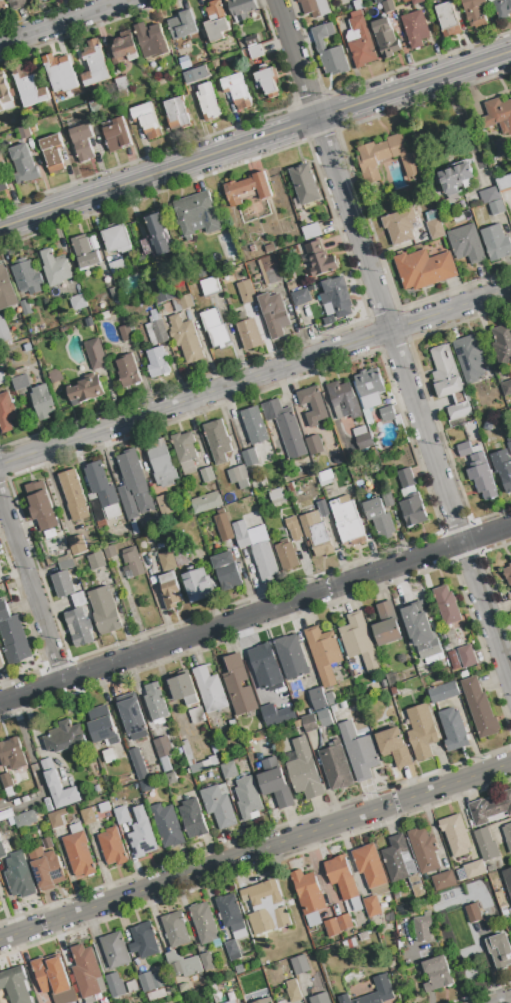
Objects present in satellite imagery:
building: (24, 0)
building: (40, 0)
building: (12, 1)
building: (379, 1)
building: (417, 2)
building: (358, 5)
building: (2, 6)
building: (387, 6)
building: (314, 7)
building: (503, 8)
building: (242, 9)
building: (476, 11)
building: (448, 20)
road: (63, 21)
building: (217, 21)
building: (182, 25)
building: (341, 26)
building: (415, 28)
building: (203, 34)
building: (386, 38)
building: (151, 40)
building: (251, 40)
building: (361, 41)
building: (123, 50)
building: (329, 50)
building: (256, 52)
building: (224, 62)
building: (95, 64)
building: (217, 64)
building: (60, 73)
building: (160, 82)
building: (268, 82)
building: (122, 84)
building: (29, 86)
building: (234, 93)
building: (5, 95)
building: (125, 95)
building: (208, 102)
building: (177, 113)
building: (497, 115)
building: (145, 120)
building: (32, 126)
building: (24, 132)
building: (116, 134)
road: (255, 138)
building: (83, 142)
building: (1, 146)
building: (501, 149)
building: (52, 152)
building: (386, 159)
building: (24, 164)
building: (454, 178)
building: (3, 183)
building: (504, 183)
building: (305, 185)
building: (248, 189)
building: (490, 195)
building: (420, 197)
building: (474, 197)
building: (497, 207)
building: (196, 214)
building: (432, 215)
building: (400, 225)
building: (327, 226)
building: (436, 229)
building: (311, 231)
building: (159, 233)
building: (118, 239)
building: (496, 242)
building: (466, 244)
building: (270, 247)
building: (251, 248)
building: (85, 252)
building: (320, 259)
building: (269, 263)
building: (55, 268)
building: (118, 269)
building: (424, 269)
building: (27, 278)
building: (291, 284)
building: (209, 286)
building: (161, 289)
building: (6, 290)
building: (245, 292)
building: (337, 296)
building: (300, 297)
building: (184, 301)
building: (78, 302)
building: (25, 307)
building: (92, 307)
building: (274, 314)
building: (104, 316)
building: (329, 320)
building: (89, 322)
building: (215, 328)
building: (156, 329)
building: (4, 331)
building: (35, 331)
building: (248, 332)
building: (125, 333)
building: (186, 339)
road: (393, 342)
building: (502, 343)
building: (27, 347)
building: (95, 354)
building: (472, 357)
building: (158, 362)
building: (1, 368)
building: (128, 370)
building: (54, 375)
road: (255, 376)
building: (2, 378)
building: (20, 379)
building: (449, 381)
building: (369, 387)
building: (506, 388)
building: (86, 389)
building: (344, 399)
building: (42, 402)
building: (313, 405)
building: (476, 409)
building: (509, 411)
building: (7, 412)
building: (387, 413)
building: (254, 425)
building: (487, 426)
building: (286, 428)
building: (217, 437)
building: (363, 439)
building: (314, 445)
building: (509, 447)
building: (464, 449)
building: (185, 451)
building: (250, 457)
building: (338, 460)
building: (162, 463)
building: (310, 471)
building: (481, 474)
building: (207, 475)
building: (239, 477)
building: (325, 478)
building: (406, 478)
building: (506, 479)
building: (100, 485)
building: (134, 486)
building: (291, 488)
building: (276, 494)
building: (74, 495)
building: (163, 502)
building: (206, 502)
building: (42, 506)
building: (323, 508)
building: (413, 511)
building: (381, 514)
building: (348, 523)
building: (223, 526)
building: (293, 528)
building: (134, 529)
building: (242, 534)
building: (317, 534)
building: (142, 545)
building: (77, 546)
building: (110, 552)
building: (179, 556)
building: (287, 556)
building: (64, 559)
building: (97, 560)
building: (167, 561)
building: (264, 561)
building: (133, 562)
building: (66, 565)
building: (226, 572)
building: (507, 574)
road: (32, 585)
building: (63, 585)
building: (198, 586)
building: (169, 591)
building: (127, 594)
building: (79, 600)
building: (447, 606)
building: (105, 611)
road: (255, 613)
building: (386, 625)
building: (79, 627)
building: (421, 630)
building: (13, 637)
building: (359, 642)
building: (323, 654)
building: (467, 656)
building: (291, 658)
building: (1, 663)
building: (265, 668)
building: (238, 686)
building: (183, 690)
building: (209, 690)
building: (443, 693)
building: (321, 699)
building: (155, 703)
building: (342, 706)
building: (480, 709)
building: (284, 713)
building: (269, 716)
building: (132, 717)
building: (298, 724)
building: (309, 724)
building: (101, 725)
building: (453, 730)
building: (421, 732)
building: (64, 738)
building: (394, 747)
building: (185, 748)
building: (359, 752)
building: (163, 753)
building: (12, 754)
building: (109, 756)
building: (214, 760)
building: (138, 764)
building: (198, 766)
building: (336, 767)
building: (303, 770)
building: (228, 771)
building: (171, 779)
building: (275, 783)
building: (7, 784)
building: (147, 785)
building: (58, 786)
building: (248, 799)
building: (48, 805)
building: (218, 806)
building: (490, 808)
building: (6, 813)
building: (96, 814)
building: (121, 816)
building: (25, 819)
building: (56, 819)
building: (192, 819)
building: (167, 826)
building: (141, 835)
building: (456, 835)
building: (507, 835)
building: (486, 845)
building: (112, 847)
road: (255, 849)
building: (424, 850)
building: (2, 851)
building: (78, 851)
building: (402, 865)
building: (46, 866)
building: (370, 867)
building: (474, 869)
building: (508, 880)
building: (444, 881)
building: (20, 882)
building: (343, 882)
building: (444, 896)
building: (309, 897)
building: (500, 900)
building: (375, 905)
building: (265, 907)
building: (474, 912)
building: (231, 915)
building: (344, 922)
building: (205, 925)
building: (332, 928)
building: (423, 928)
building: (175, 930)
building: (143, 941)
building: (115, 951)
building: (232, 951)
building: (499, 951)
building: (206, 962)
building: (300, 965)
building: (183, 966)
building: (239, 969)
building: (86, 972)
building: (436, 974)
building: (54, 979)
building: (149, 981)
building: (15, 985)
building: (115, 986)
building: (382, 986)
building: (132, 987)
building: (293, 992)
building: (206, 993)
building: (256, 999)
building: (320, 999)
building: (231, 1001)
road: (505, 1001)

